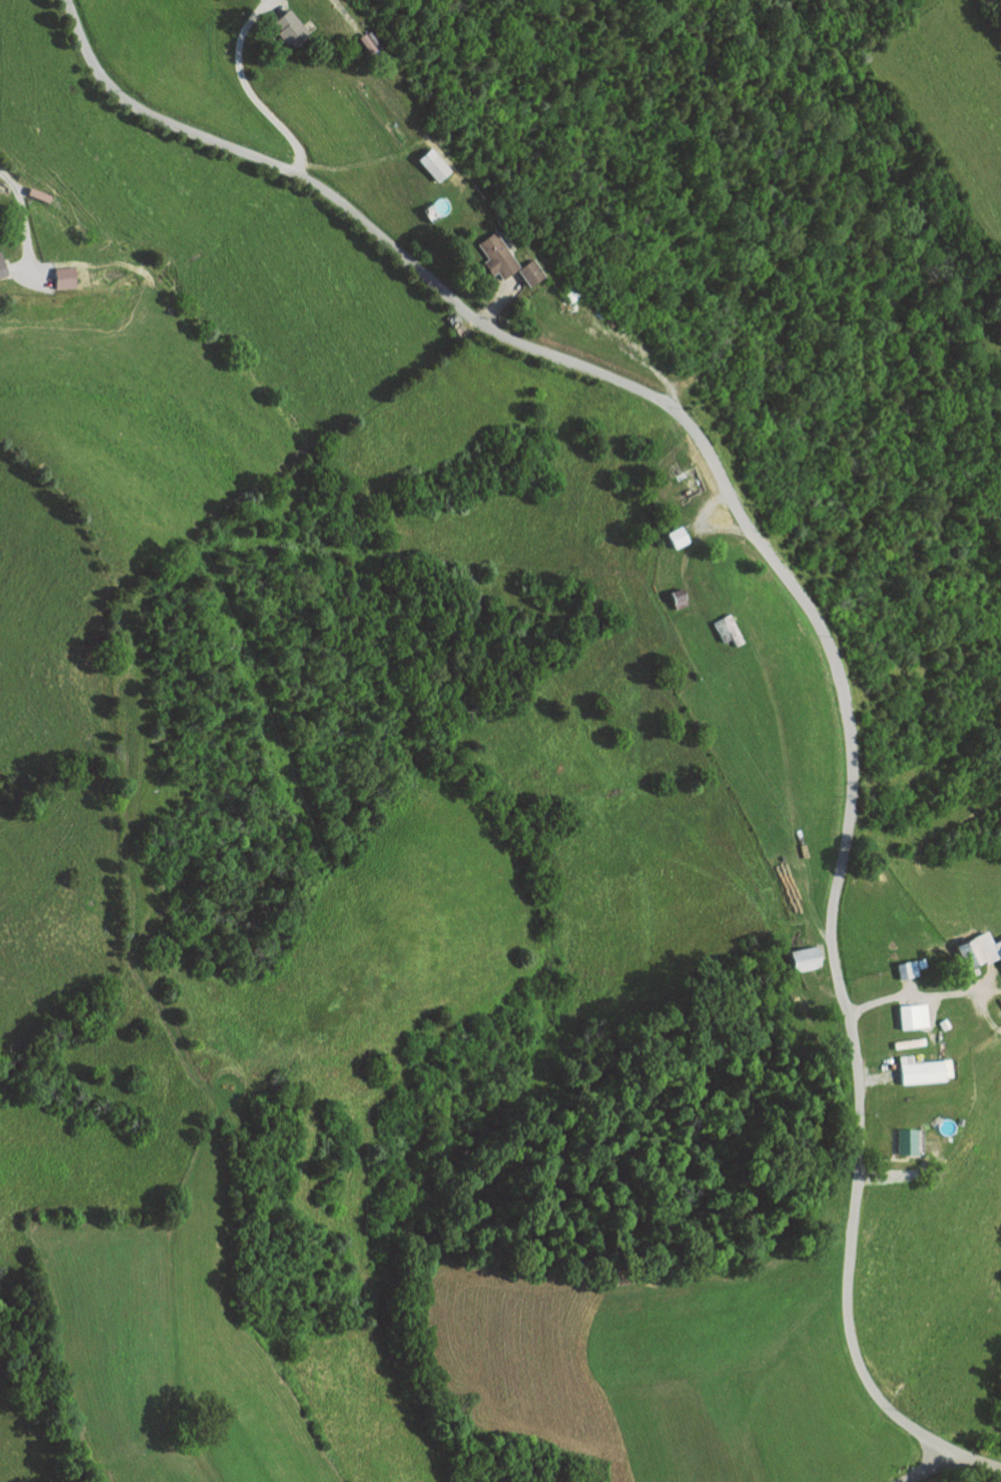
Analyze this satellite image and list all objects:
road: (342, 10)
building: (292, 28)
building: (367, 43)
road: (248, 90)
building: (436, 165)
building: (41, 194)
road: (26, 234)
building: (509, 262)
building: (3, 272)
building: (66, 277)
road: (500, 299)
road: (636, 362)
road: (707, 507)
building: (677, 537)
road: (691, 547)
road: (795, 590)
building: (679, 598)
building: (728, 628)
building: (976, 951)
building: (805, 956)
building: (918, 963)
building: (903, 969)
road: (923, 994)
road: (982, 1004)
building: (916, 1016)
building: (939, 1024)
building: (904, 1026)
road: (873, 1067)
building: (921, 1071)
building: (902, 1142)
road: (906, 1171)
road: (931, 1467)

